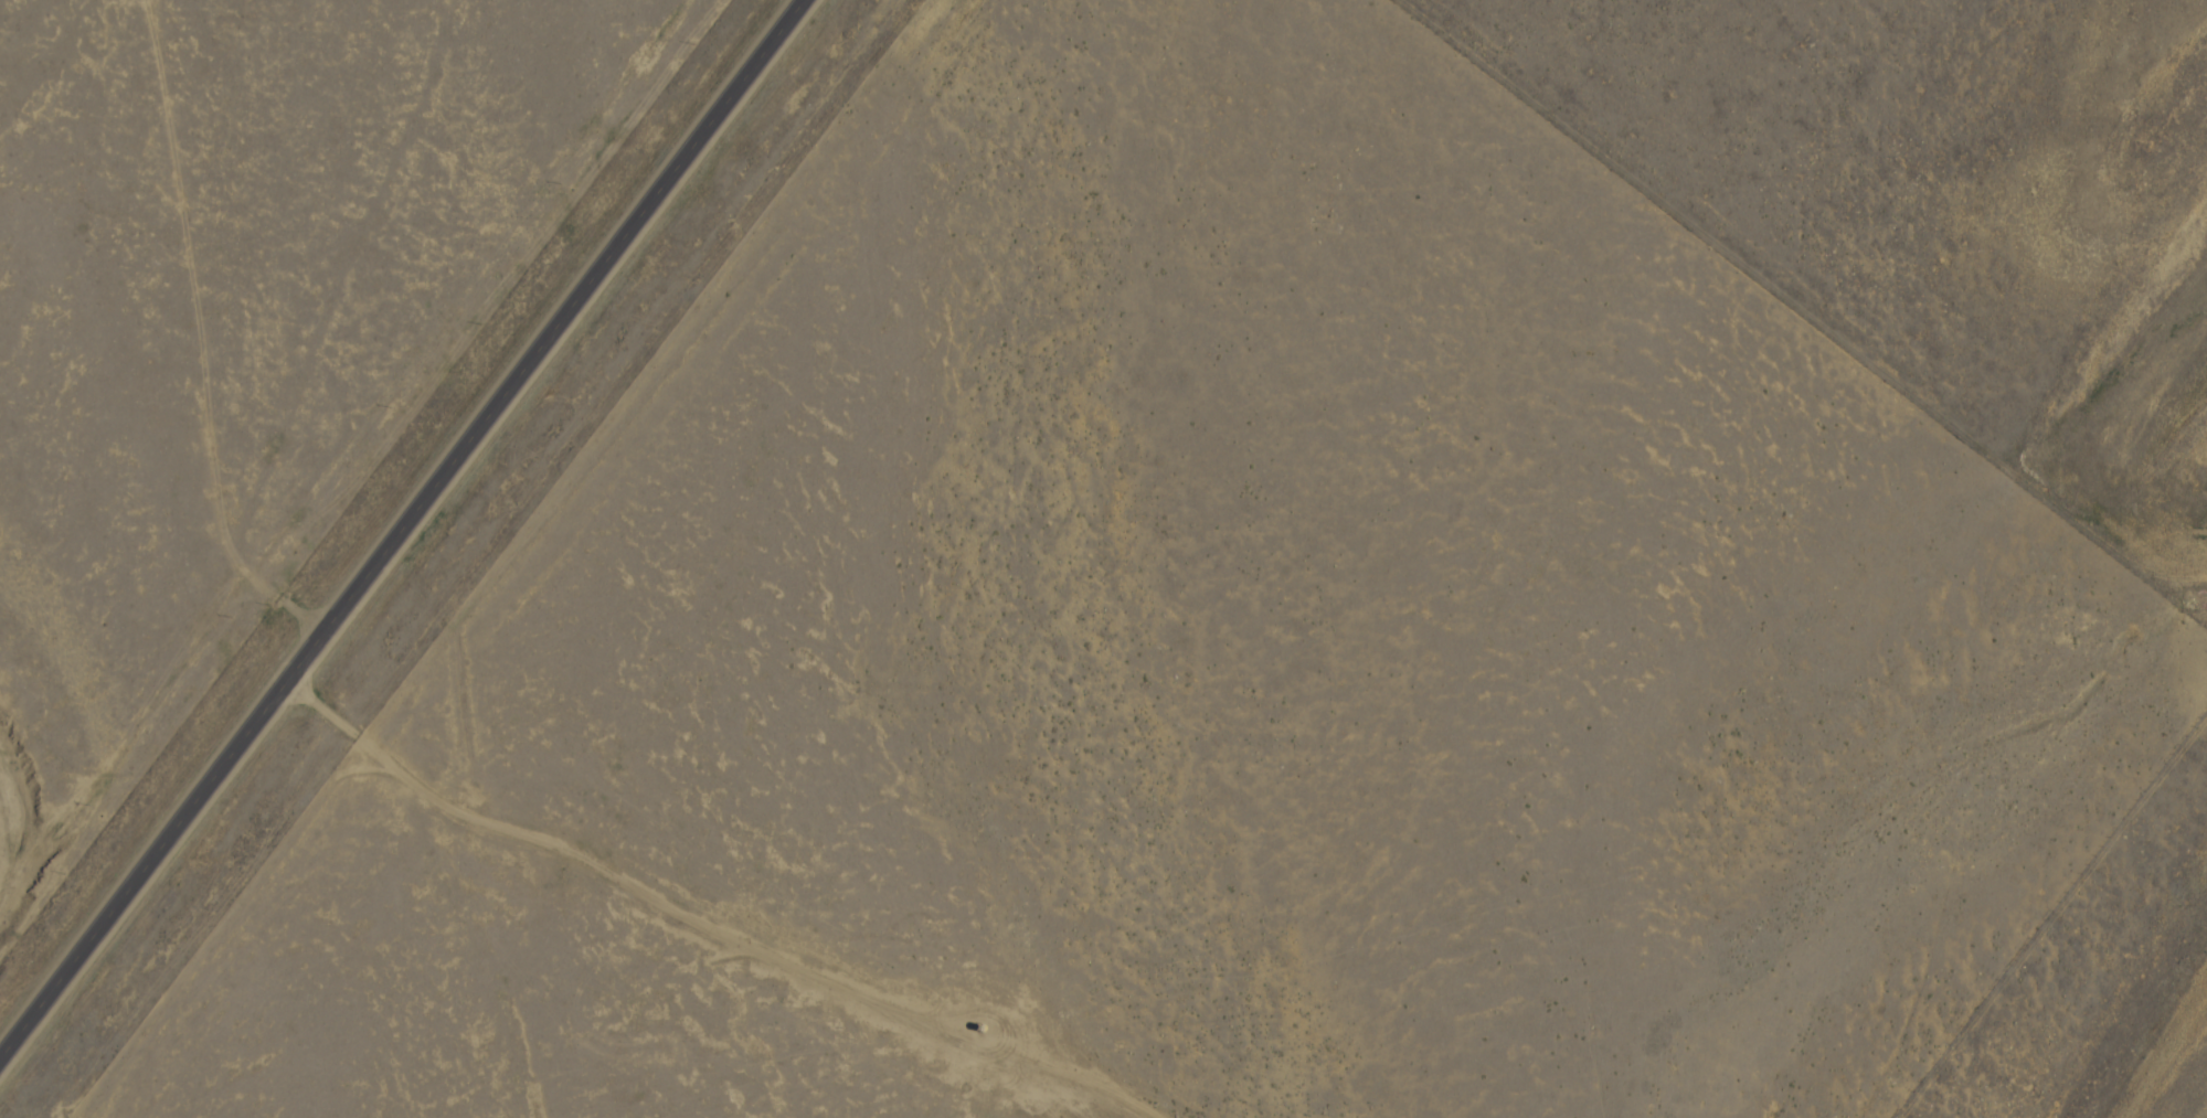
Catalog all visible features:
road: (71, 78)
airport: (1934, 211)
road: (1802, 312)
road: (401, 529)
road: (712, 916)
road: (2052, 918)
airport: (2102, 981)

